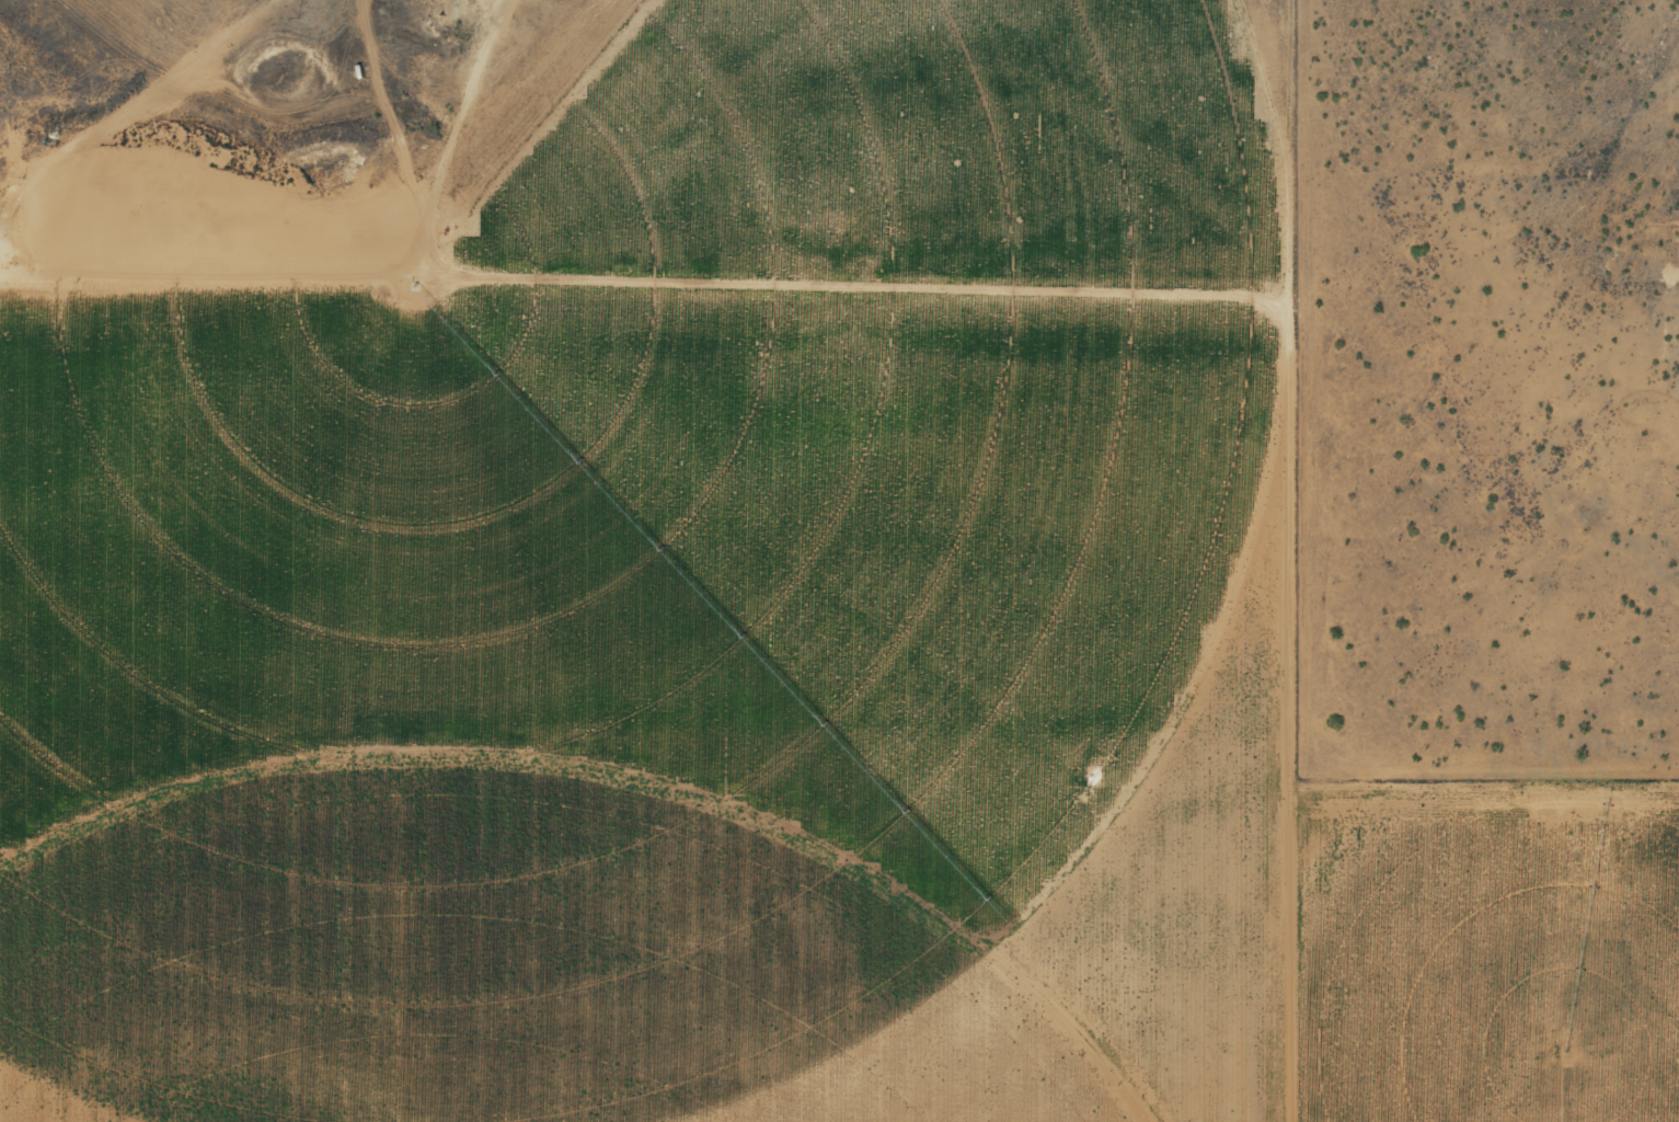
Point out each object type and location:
road: (768, 138)

